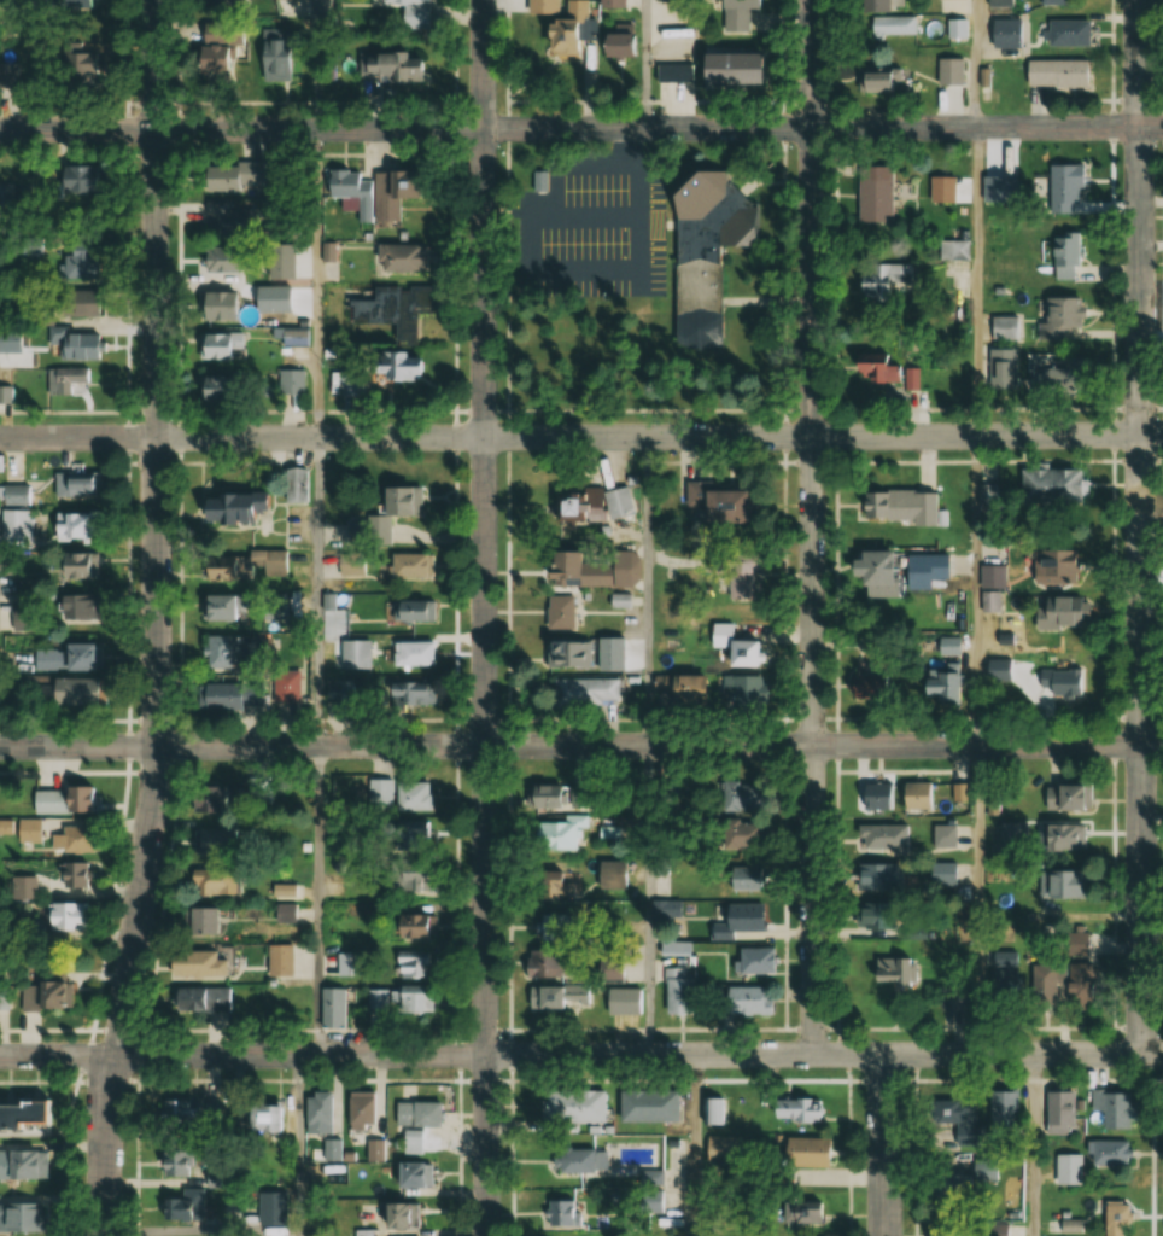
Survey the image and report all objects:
building: (1053, 0)
building: (998, 1)
building: (609, 4)
building: (878, 5)
building: (414, 13)
building: (735, 13)
building: (889, 25)
building: (954, 27)
building: (1004, 31)
building: (1064, 31)
building: (556, 37)
building: (607, 40)
building: (273, 54)
building: (210, 59)
building: (72, 62)
road: (316, 64)
road: (645, 64)
road: (977, 64)
building: (390, 66)
building: (725, 68)
building: (948, 71)
building: (7, 72)
building: (673, 72)
building: (1054, 72)
building: (872, 80)
road: (77, 128)
road: (659, 129)
building: (227, 176)
building: (71, 177)
building: (531, 186)
building: (940, 188)
building: (1064, 188)
building: (373, 192)
building: (871, 194)
building: (226, 218)
parking lot: (586, 232)
building: (702, 245)
building: (953, 250)
building: (1066, 256)
building: (399, 257)
building: (224, 264)
building: (881, 279)
road: (978, 281)
road: (317, 282)
building: (71, 303)
building: (212, 305)
building: (391, 310)
building: (1059, 315)
building: (1004, 327)
building: (69, 343)
building: (214, 345)
building: (396, 366)
building: (1001, 368)
building: (875, 371)
building: (1059, 372)
building: (57, 380)
building: (291, 381)
building: (350, 383)
building: (215, 387)
road: (77, 436)
road: (659, 437)
building: (75, 482)
building: (294, 484)
building: (1050, 486)
building: (13, 495)
building: (398, 501)
building: (711, 503)
building: (589, 506)
building: (230, 507)
building: (899, 508)
building: (14, 525)
building: (75, 526)
road: (813, 526)
road: (1142, 526)
building: (408, 565)
building: (940, 565)
building: (1054, 565)
building: (72, 566)
building: (222, 567)
building: (876, 567)
building: (590, 569)
building: (990, 576)
building: (738, 577)
road: (318, 590)
road: (649, 590)
road: (978, 590)
building: (270, 605)
building: (74, 607)
building: (214, 607)
building: (557, 611)
building: (408, 612)
building: (1053, 612)
road: (484, 618)
road: (156, 619)
building: (731, 646)
building: (947, 646)
building: (226, 651)
building: (571, 652)
building: (409, 653)
building: (355, 654)
building: (59, 657)
building: (995, 669)
building: (285, 686)
building: (741, 686)
building: (869, 686)
building: (937, 686)
building: (1058, 688)
building: (66, 690)
building: (584, 690)
building: (408, 693)
building: (227, 694)
road: (78, 745)
road: (659, 745)
building: (959, 792)
building: (411, 795)
building: (741, 795)
building: (876, 795)
building: (913, 795)
building: (380, 797)
building: (1060, 797)
building: (201, 799)
building: (62, 800)
building: (25, 829)
building: (608, 832)
building: (740, 833)
building: (1012, 833)
building: (556, 834)
building: (943, 834)
building: (409, 836)
building: (1062, 836)
building: (881, 838)
building: (78, 839)
building: (208, 841)
building: (661, 867)
building: (74, 873)
building: (879, 876)
building: (946, 876)
building: (744, 878)
building: (409, 880)
building: (544, 884)
building: (1060, 884)
road: (651, 899)
road: (318, 900)
road: (978, 900)
building: (666, 910)
building: (871, 914)
building: (63, 916)
building: (741, 916)
building: (195, 920)
building: (410, 926)
building: (677, 948)
building: (755, 960)
building: (192, 963)
building: (410, 963)
building: (540, 964)
building: (607, 968)
building: (902, 972)
building: (1004, 973)
building: (1056, 976)
building: (677, 992)
building: (40, 995)
building: (557, 996)
building: (951, 996)
building: (376, 998)
building: (199, 999)
building: (411, 1001)
building: (623, 1001)
building: (744, 1001)
building: (333, 1008)
road: (639, 1055)
road: (58, 1056)
building: (559, 1104)
building: (647, 1106)
building: (1114, 1108)
building: (361, 1109)
building: (793, 1109)
building: (998, 1109)
building: (1058, 1110)
building: (180, 1112)
building: (317, 1112)
building: (22, 1113)
building: (416, 1114)
building: (951, 1115)
building: (262, 1119)
building: (413, 1142)
road: (298, 1145)
road: (696, 1145)
road: (884, 1145)
road: (1034, 1145)
building: (724, 1149)
building: (373, 1150)
building: (803, 1152)
building: (1106, 1152)
building: (574, 1160)
building: (176, 1162)
building: (23, 1165)
building: (409, 1174)
building: (954, 1182)
building: (183, 1206)
building: (271, 1208)
building: (563, 1212)
building: (800, 1212)
building: (21, 1217)
building: (397, 1218)
building: (1116, 1219)
building: (364, 1232)
building: (954, 1232)

